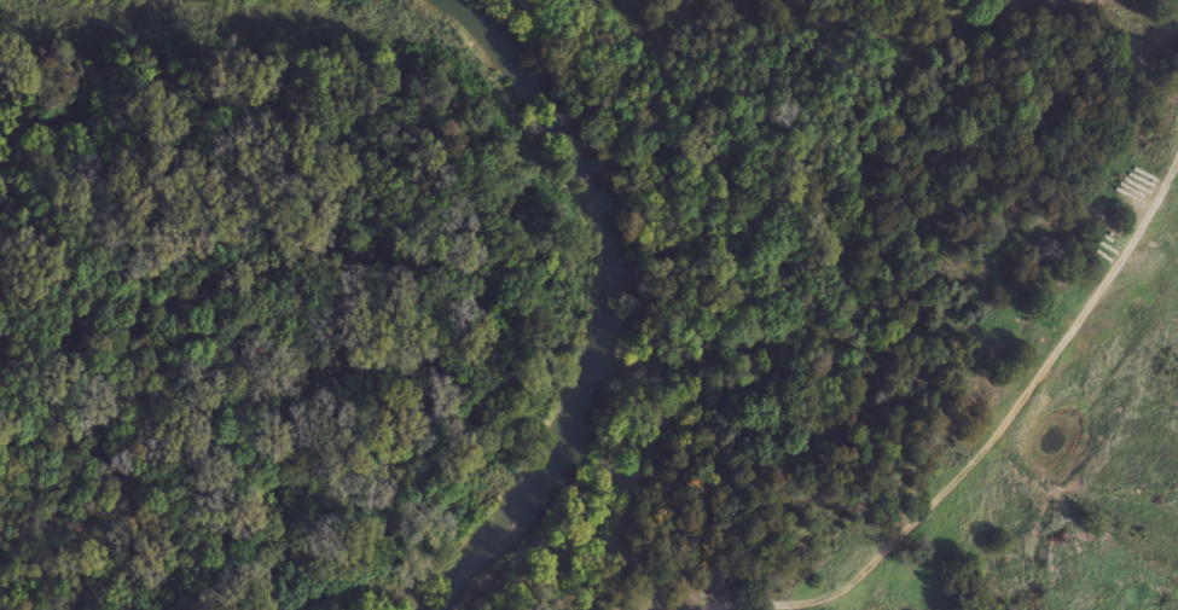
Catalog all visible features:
road: (930, 374)

